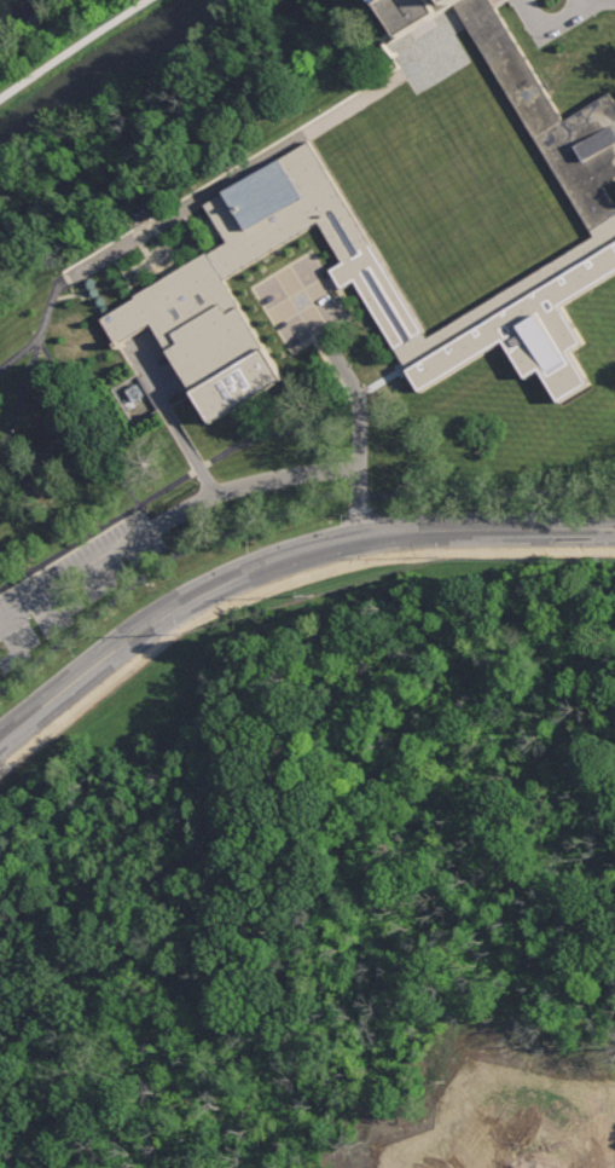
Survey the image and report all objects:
road: (597, 0)
road: (552, 27)
road: (74, 50)
building: (282, 215)
road: (19, 357)
road: (30, 371)
parking lot: (155, 371)
road: (359, 411)
road: (170, 420)
road: (89, 423)
road: (199, 470)
road: (282, 515)
road: (168, 521)
road: (282, 560)
road: (101, 576)
road: (5, 577)
parking lot: (72, 586)
road: (58, 606)
road: (14, 642)
parking lot: (0, 683)
park: (327, 889)
road: (493, 1137)

